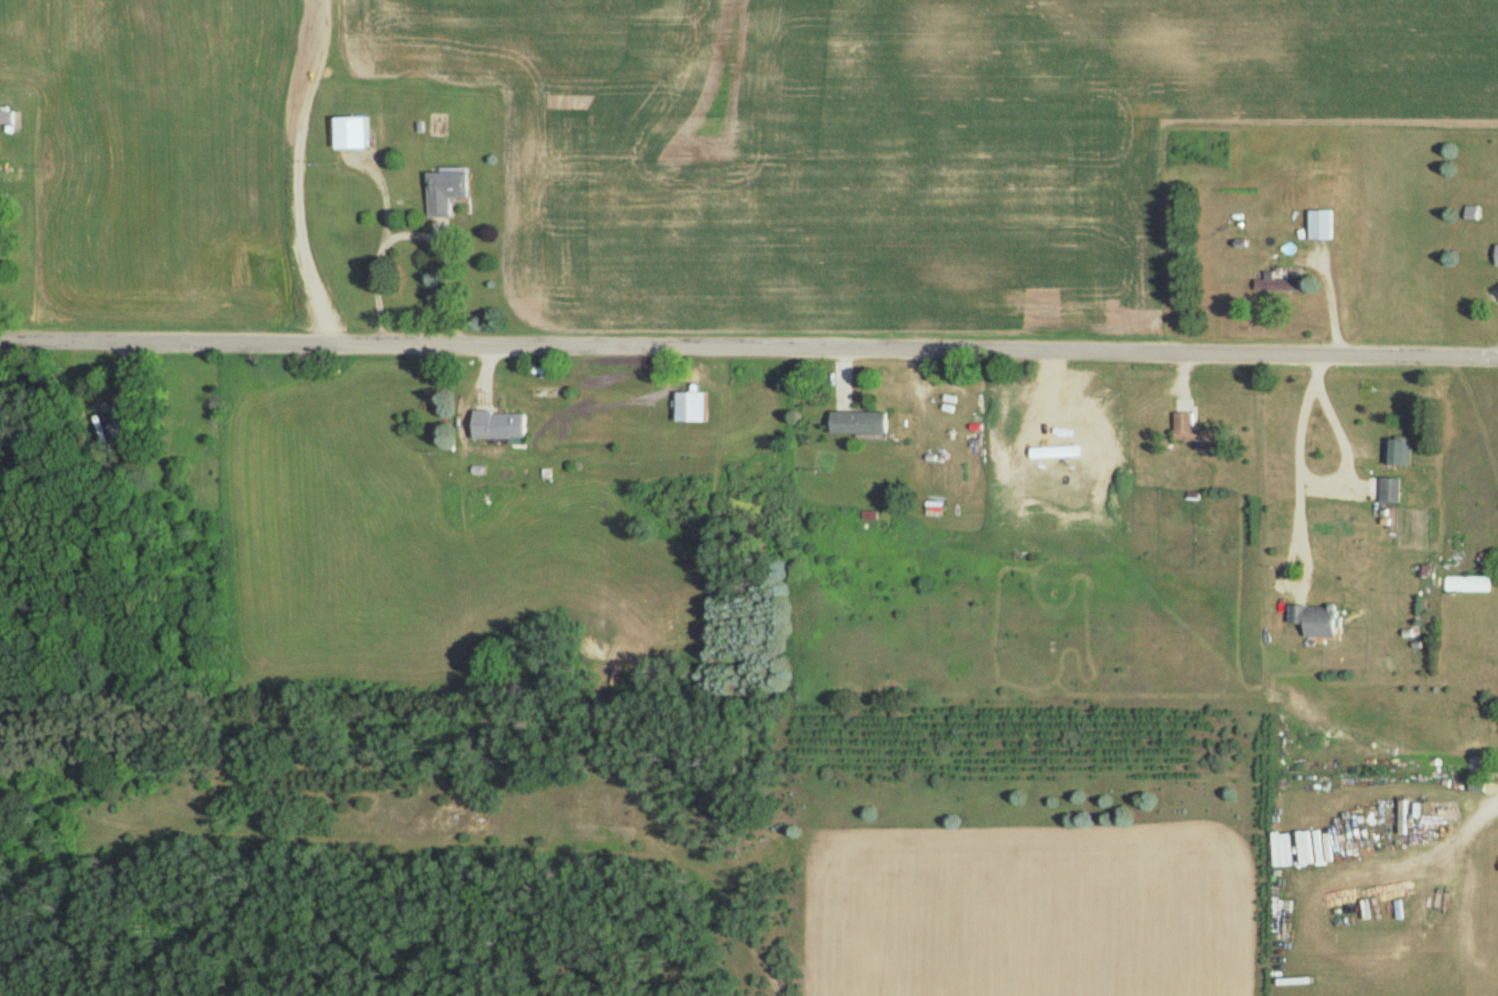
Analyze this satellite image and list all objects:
building: (356, 133)
building: (448, 191)
building: (1323, 225)
building: (1497, 257)
building: (1275, 282)
road: (749, 353)
building: (694, 407)
building: (862, 423)
building: (503, 424)
building: (1195, 429)
building: (115, 430)
building: (1400, 452)
building: (1391, 490)
building: (1468, 584)
building: (1318, 618)
building: (1405, 818)
building: (1344, 837)

